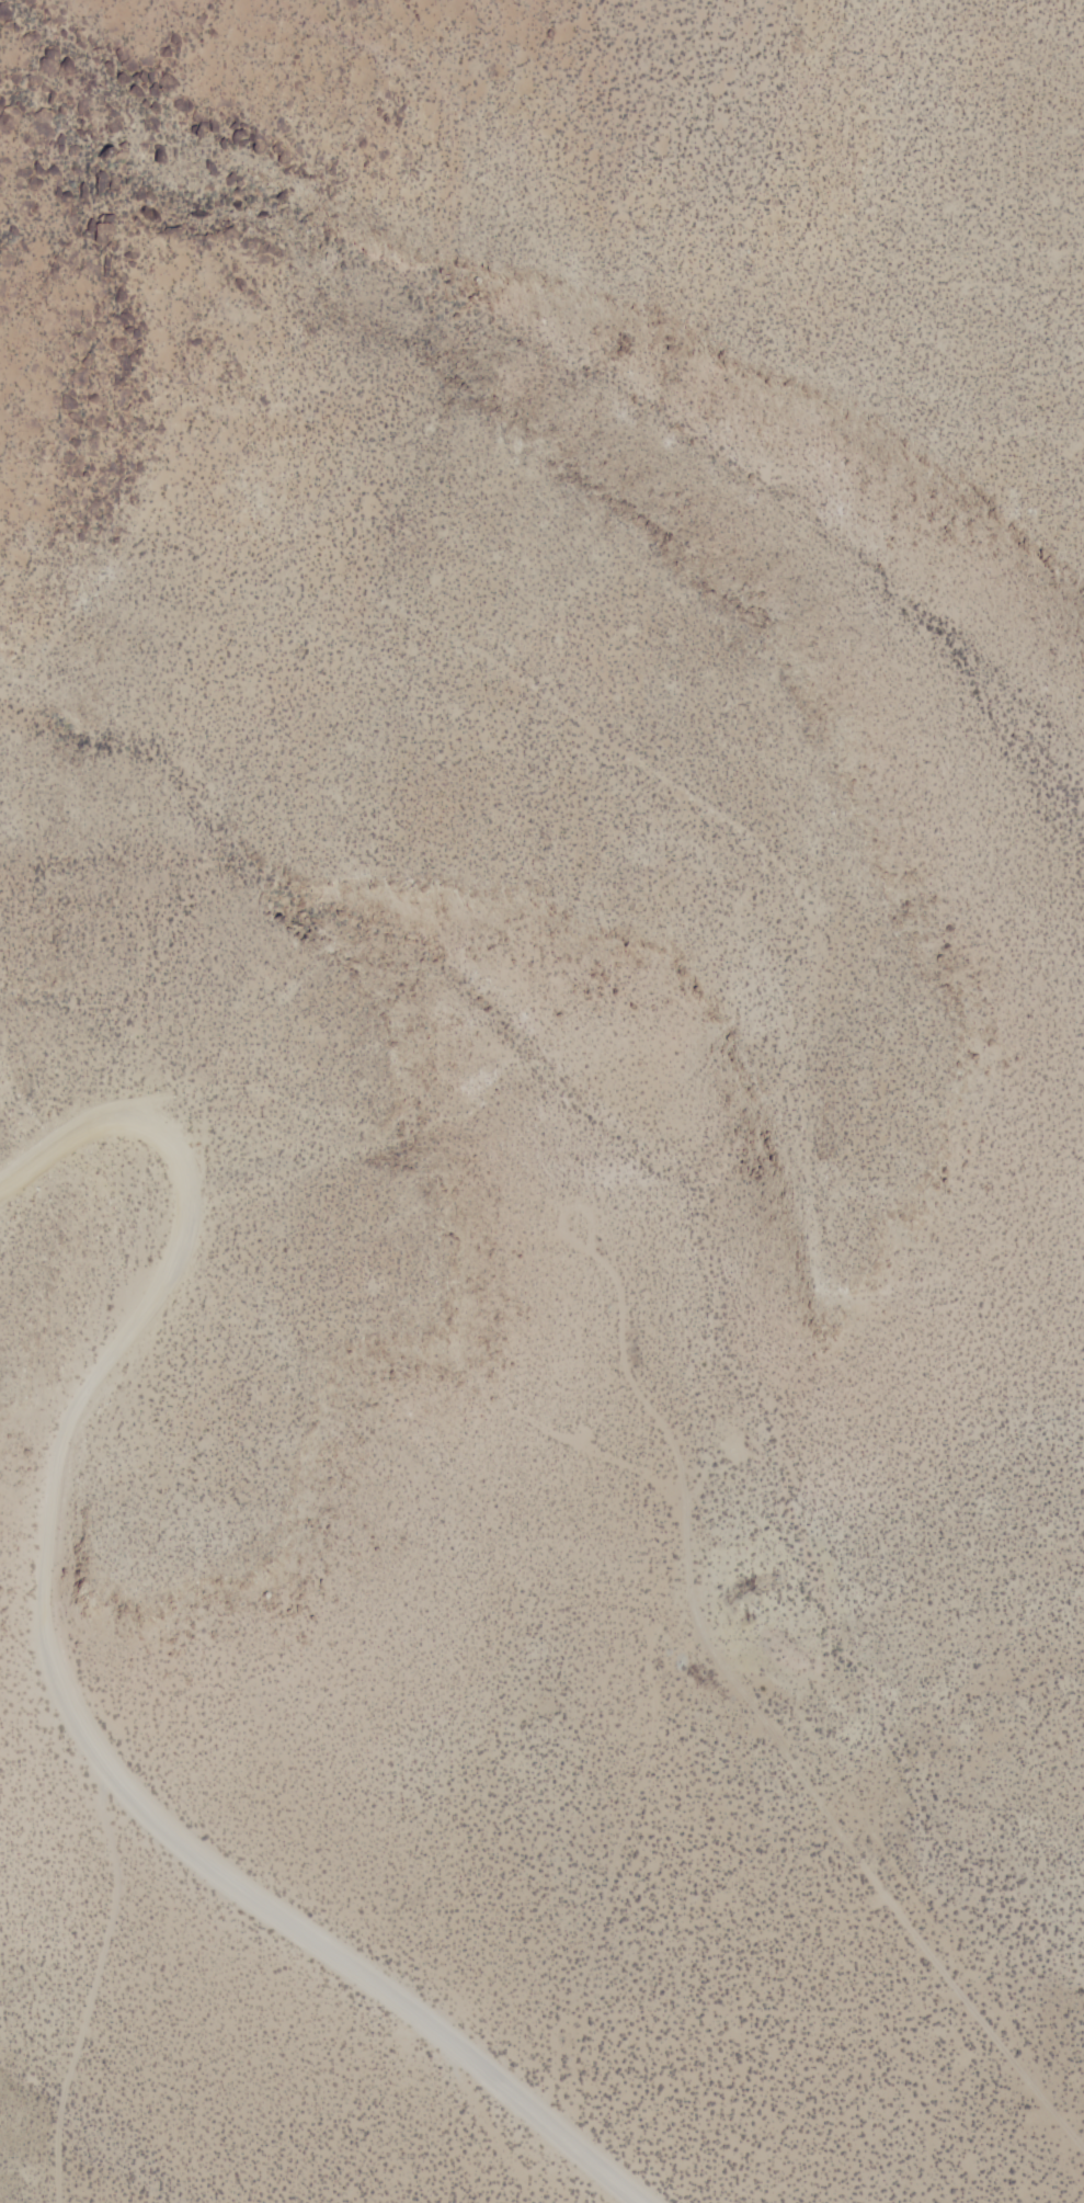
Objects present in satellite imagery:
road: (560, 1204)
road: (66, 1680)
road: (757, 1730)
road: (87, 1976)

